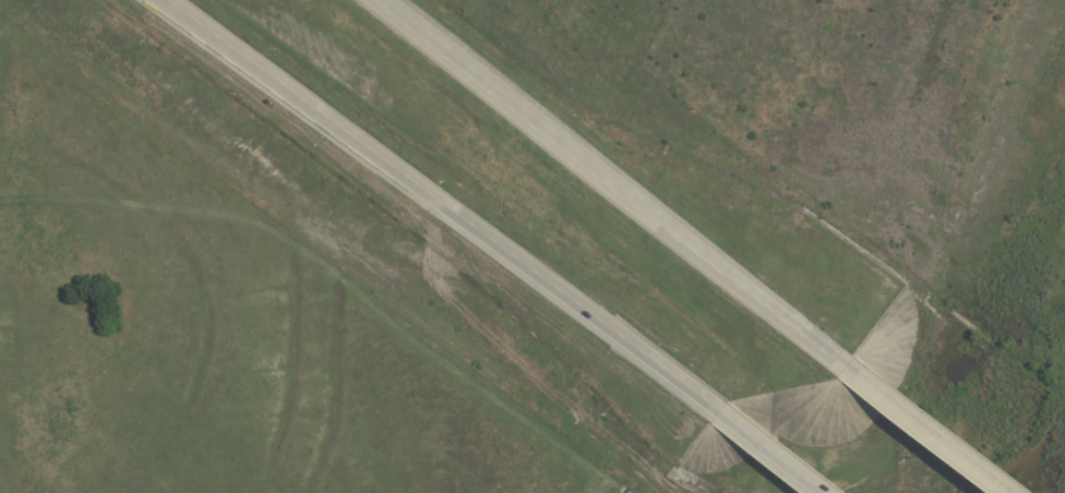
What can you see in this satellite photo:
road: (608, 179)
road: (438, 204)
road: (931, 425)
road: (774, 450)

